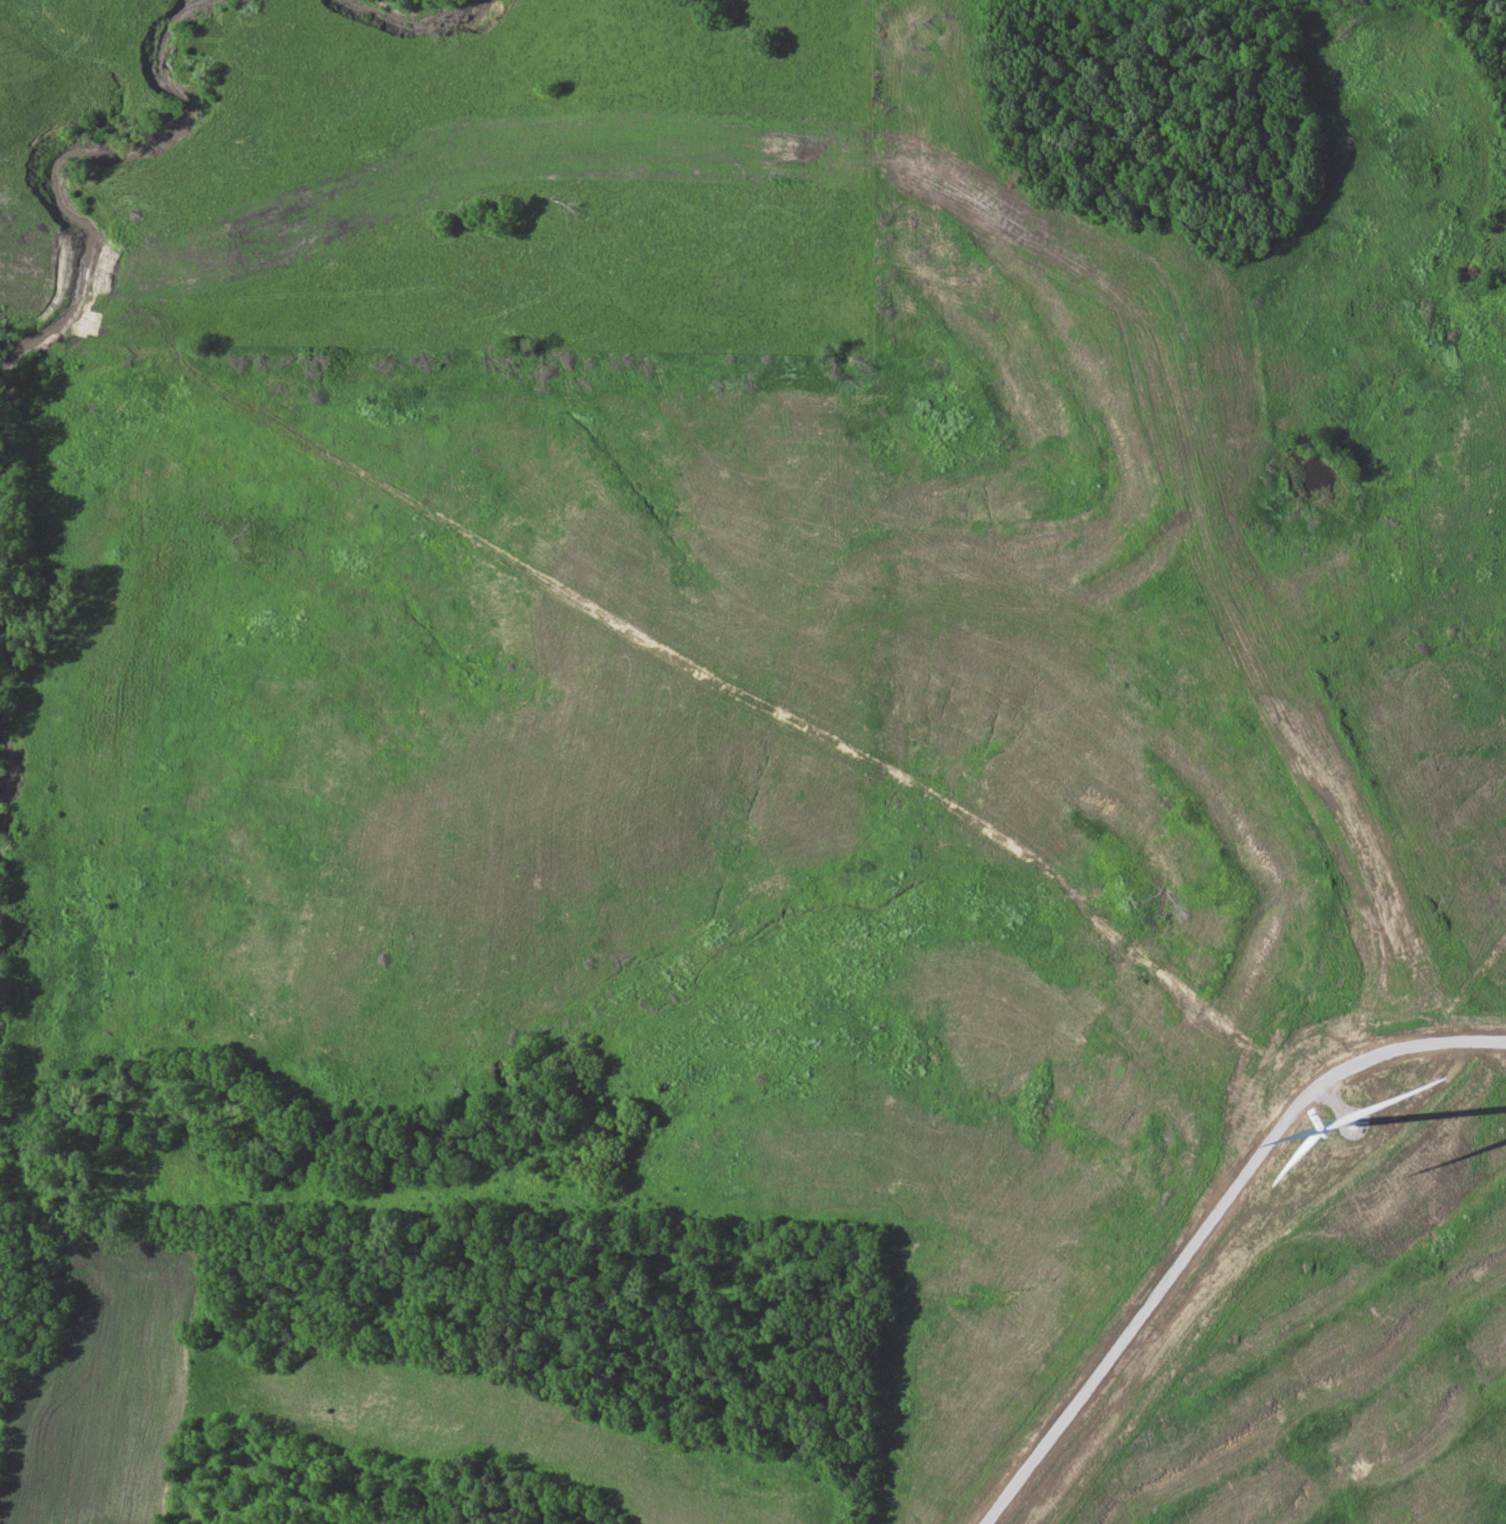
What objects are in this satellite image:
wind turbine: (1328, 1116)

